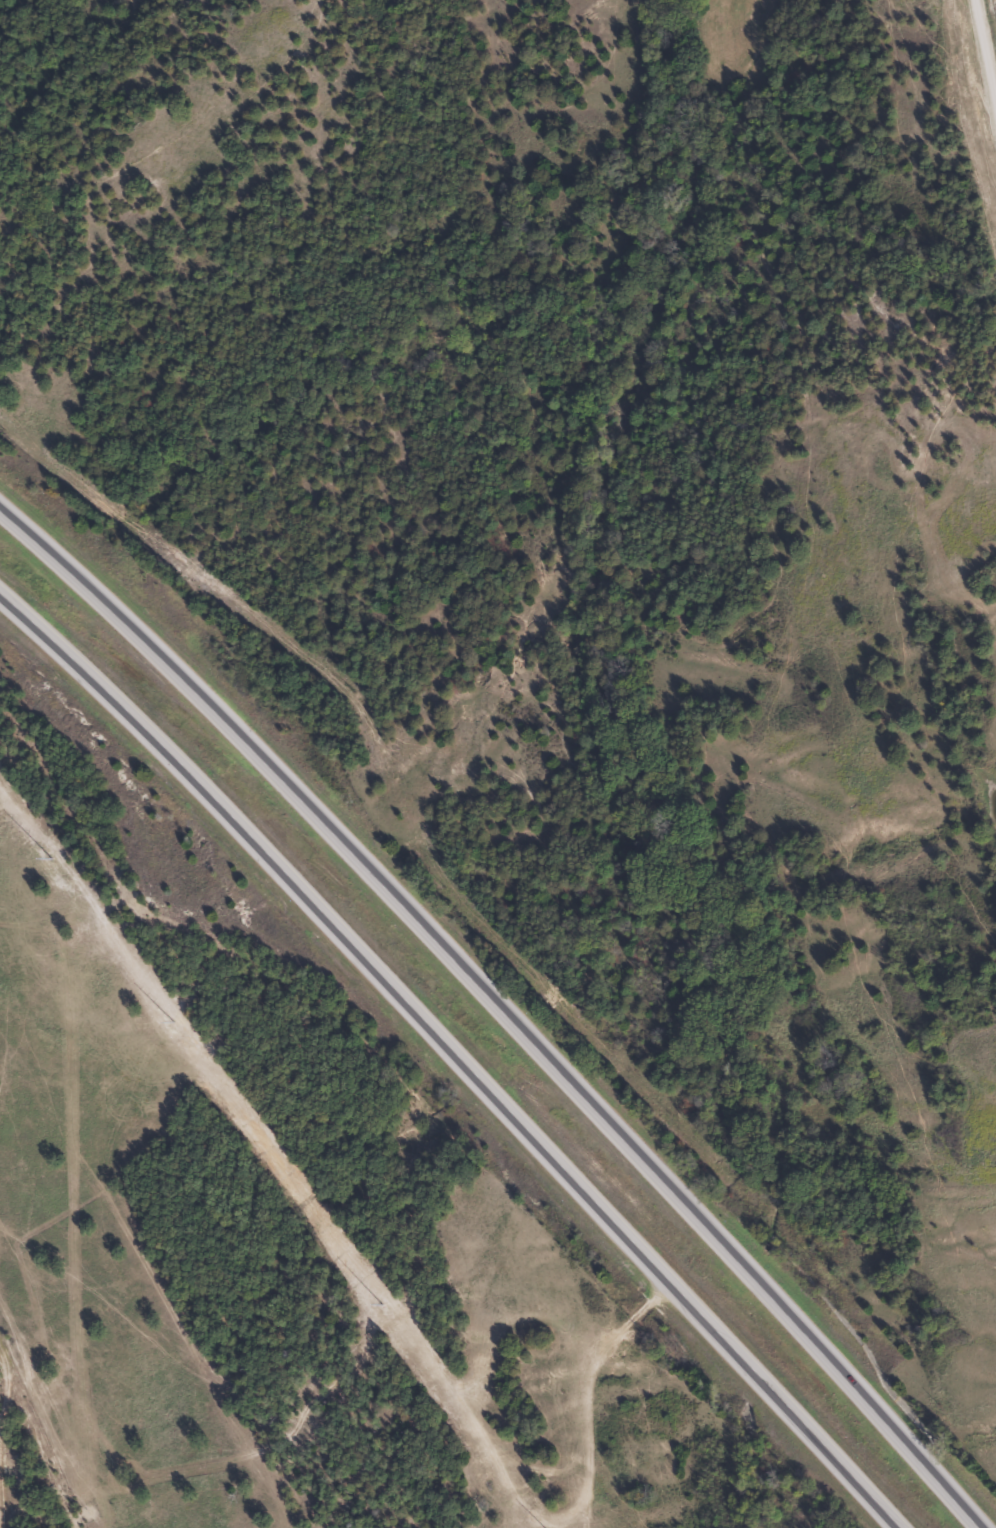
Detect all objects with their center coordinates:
road: (969, 116)
road: (987, 155)
road: (492, 1007)
road: (451, 1046)

